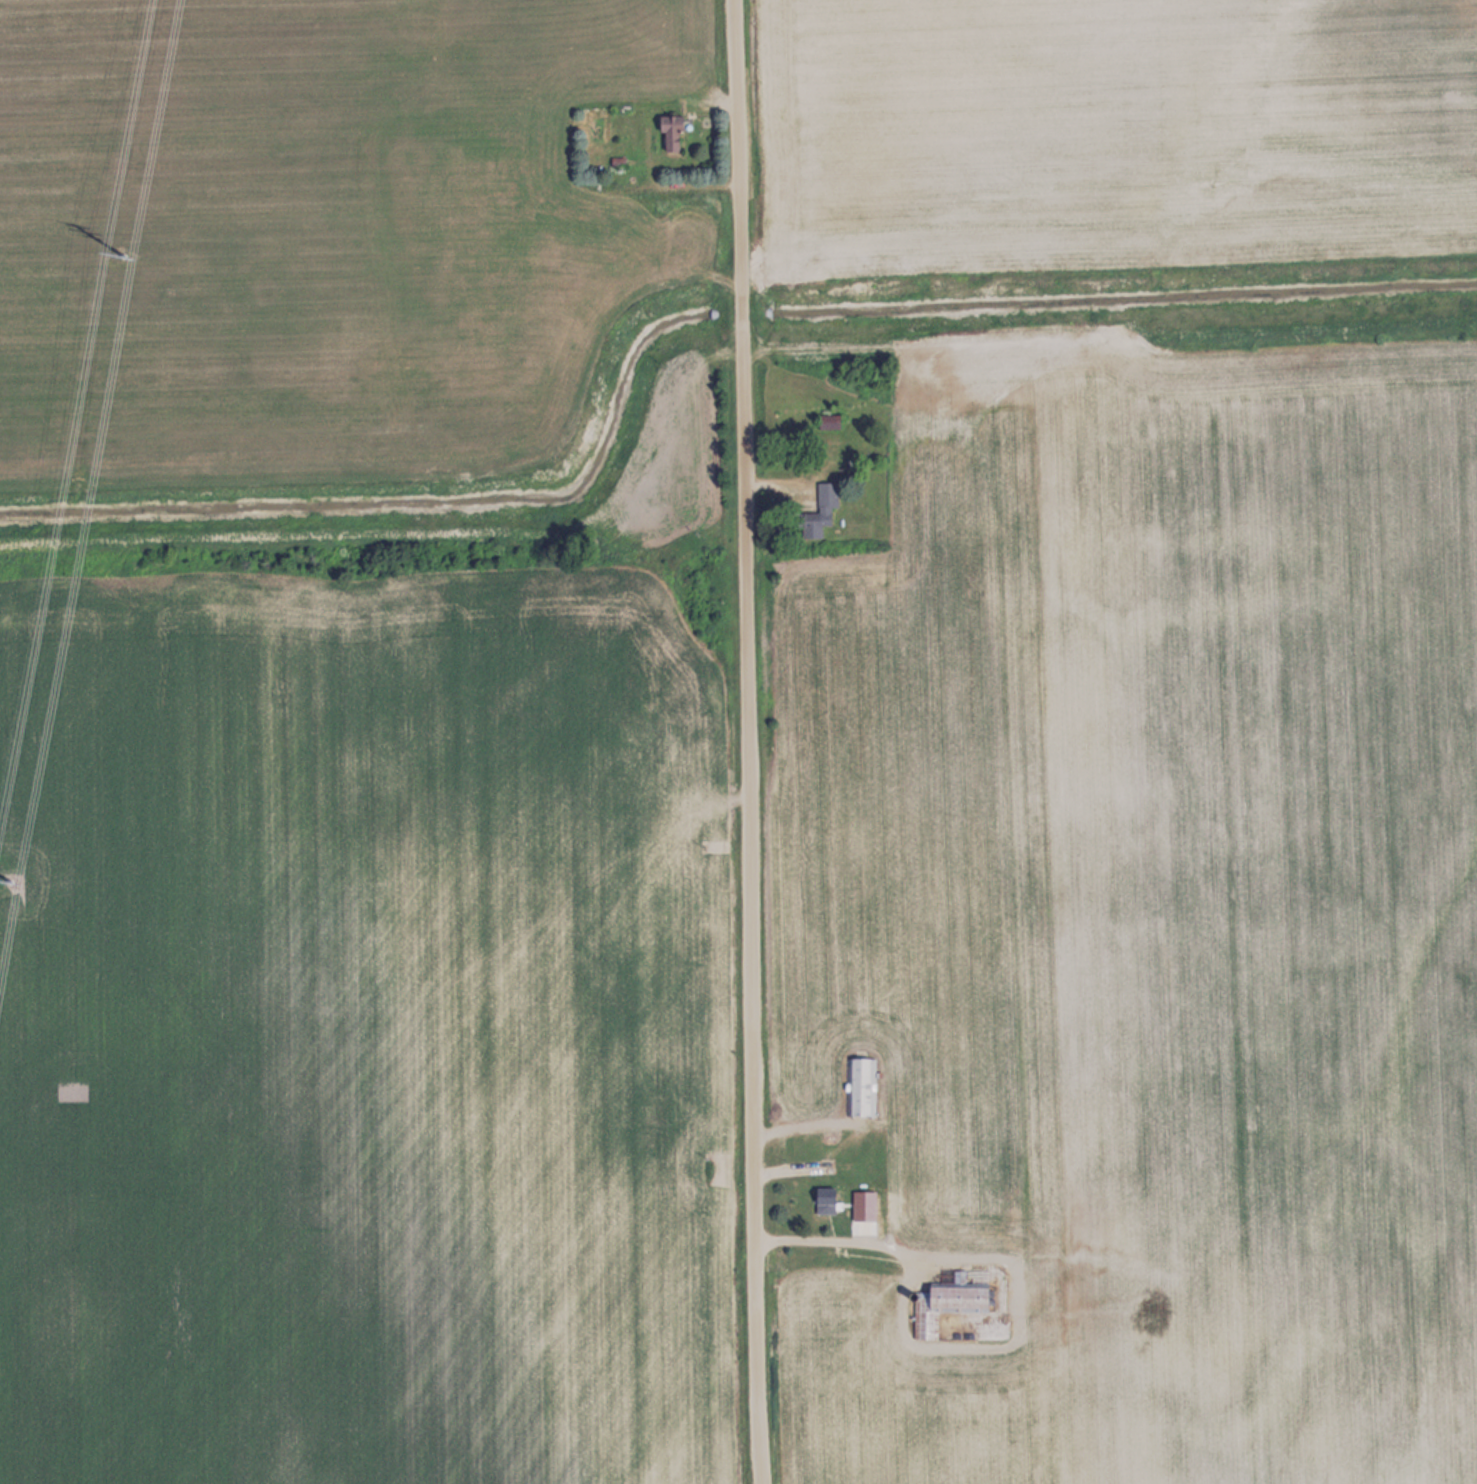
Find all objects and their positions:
building: (668, 134)
power tower: (121, 249)
building: (827, 421)
building: (817, 512)
road: (746, 742)
power tower: (11, 876)
building: (862, 1086)
building: (824, 1200)
building: (947, 1302)

